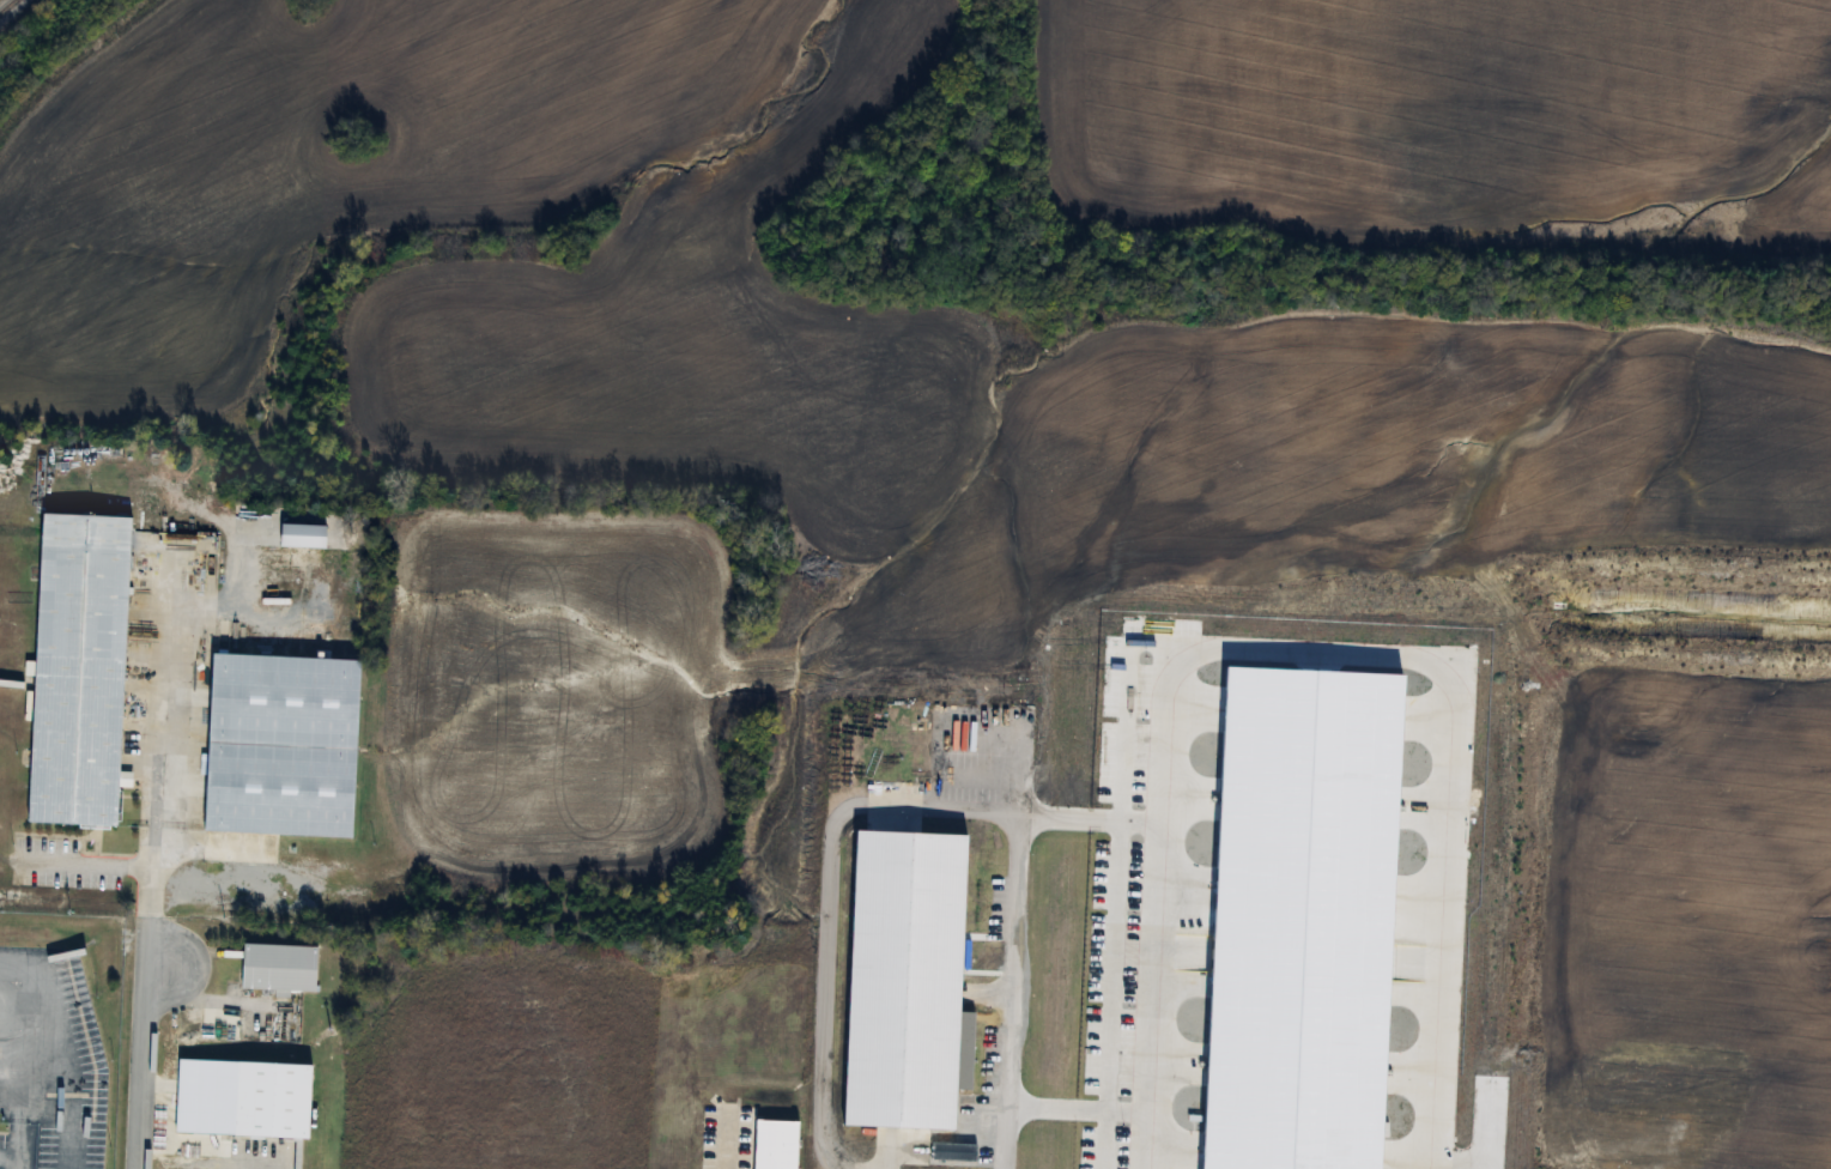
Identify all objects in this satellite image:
railway: (8, 6)
building: (77, 667)
building: (277, 746)
road: (148, 793)
road: (914, 806)
road: (84, 859)
road: (260, 861)
building: (1298, 921)
building: (280, 968)
building: (909, 985)
road: (17, 1059)
building: (273, 1098)
road: (183, 1143)
road: (8, 1161)

